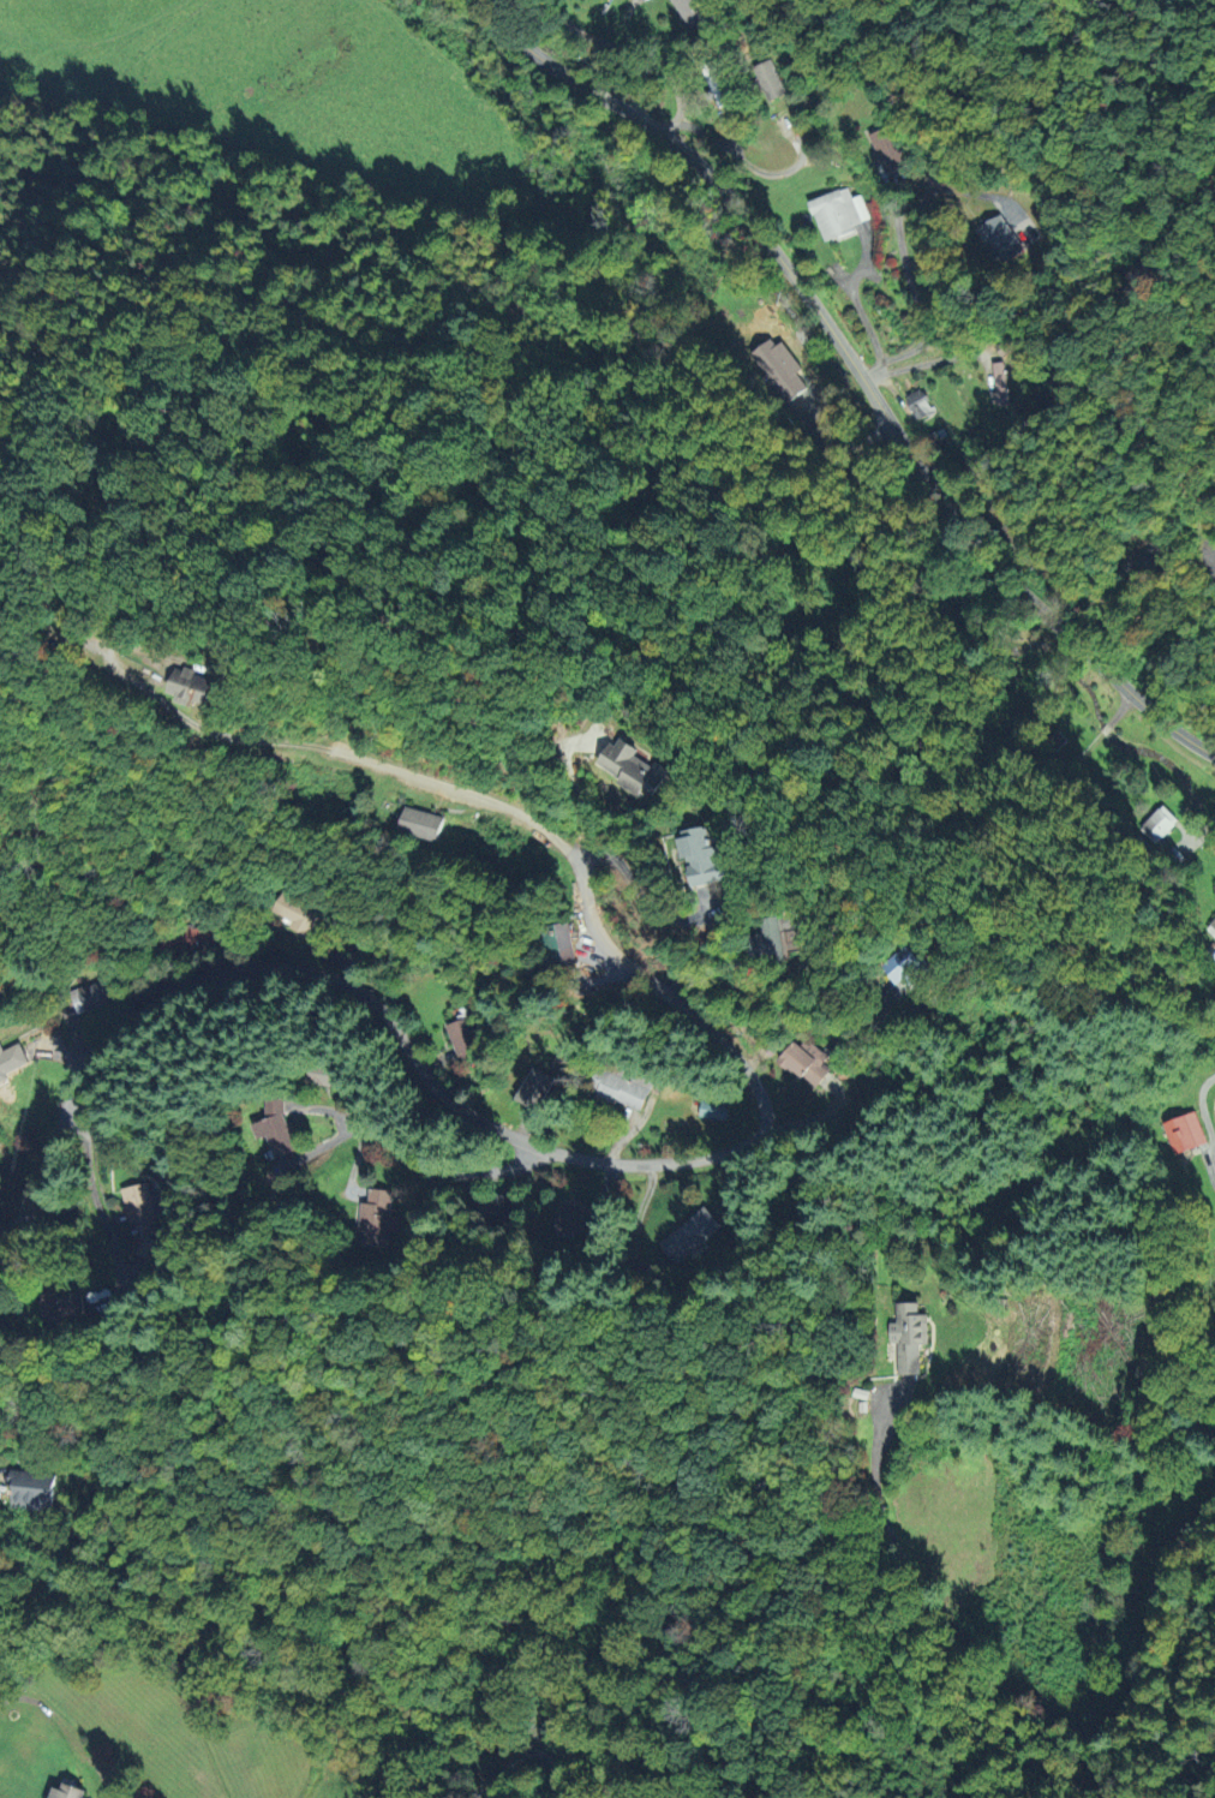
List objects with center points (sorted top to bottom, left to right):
building: (693, 12)
road: (644, 64)
building: (768, 79)
building: (714, 86)
road: (711, 132)
building: (887, 149)
road: (920, 208)
building: (837, 213)
building: (1000, 239)
road: (914, 292)
road: (858, 310)
road: (928, 360)
building: (776, 362)
road: (855, 368)
building: (998, 386)
building: (917, 404)
road: (825, 426)
building: (192, 685)
road: (880, 716)
building: (636, 765)
building: (421, 823)
building: (1157, 823)
building: (705, 854)
building: (300, 915)
building: (1210, 928)
building: (772, 937)
building: (559, 943)
building: (905, 964)
road: (762, 984)
building: (97, 992)
building: (463, 1038)
building: (11, 1059)
building: (804, 1062)
building: (330, 1074)
building: (618, 1085)
building: (534, 1087)
building: (712, 1110)
building: (276, 1128)
building: (1184, 1131)
road: (591, 1159)
road: (438, 1171)
road: (13, 1173)
road: (94, 1199)
building: (495, 1209)
building: (140, 1215)
building: (373, 1218)
building: (574, 1218)
building: (689, 1233)
building: (62, 1308)
building: (909, 1336)
building: (34, 1489)
road: (1024, 1695)
road: (510, 1714)
building: (66, 1792)

